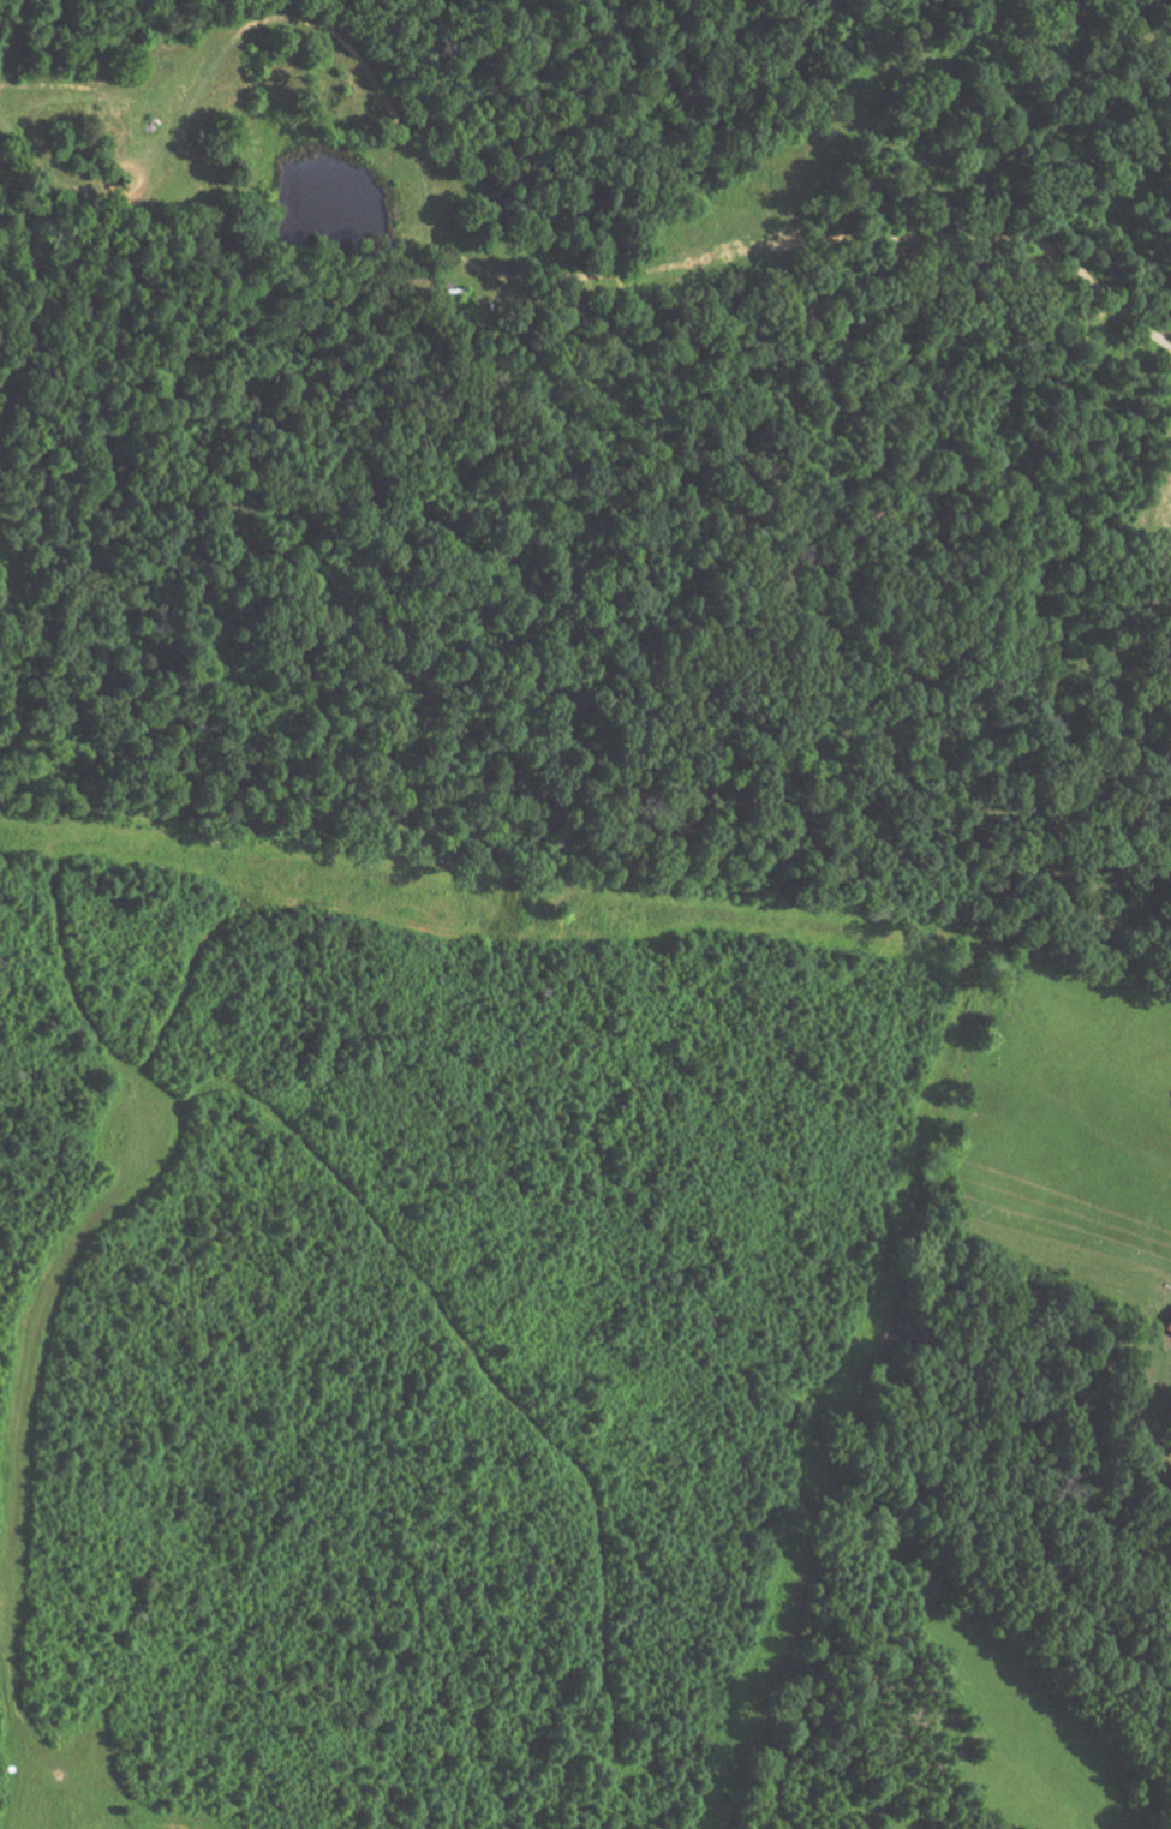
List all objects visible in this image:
building: (1167, 1323)

